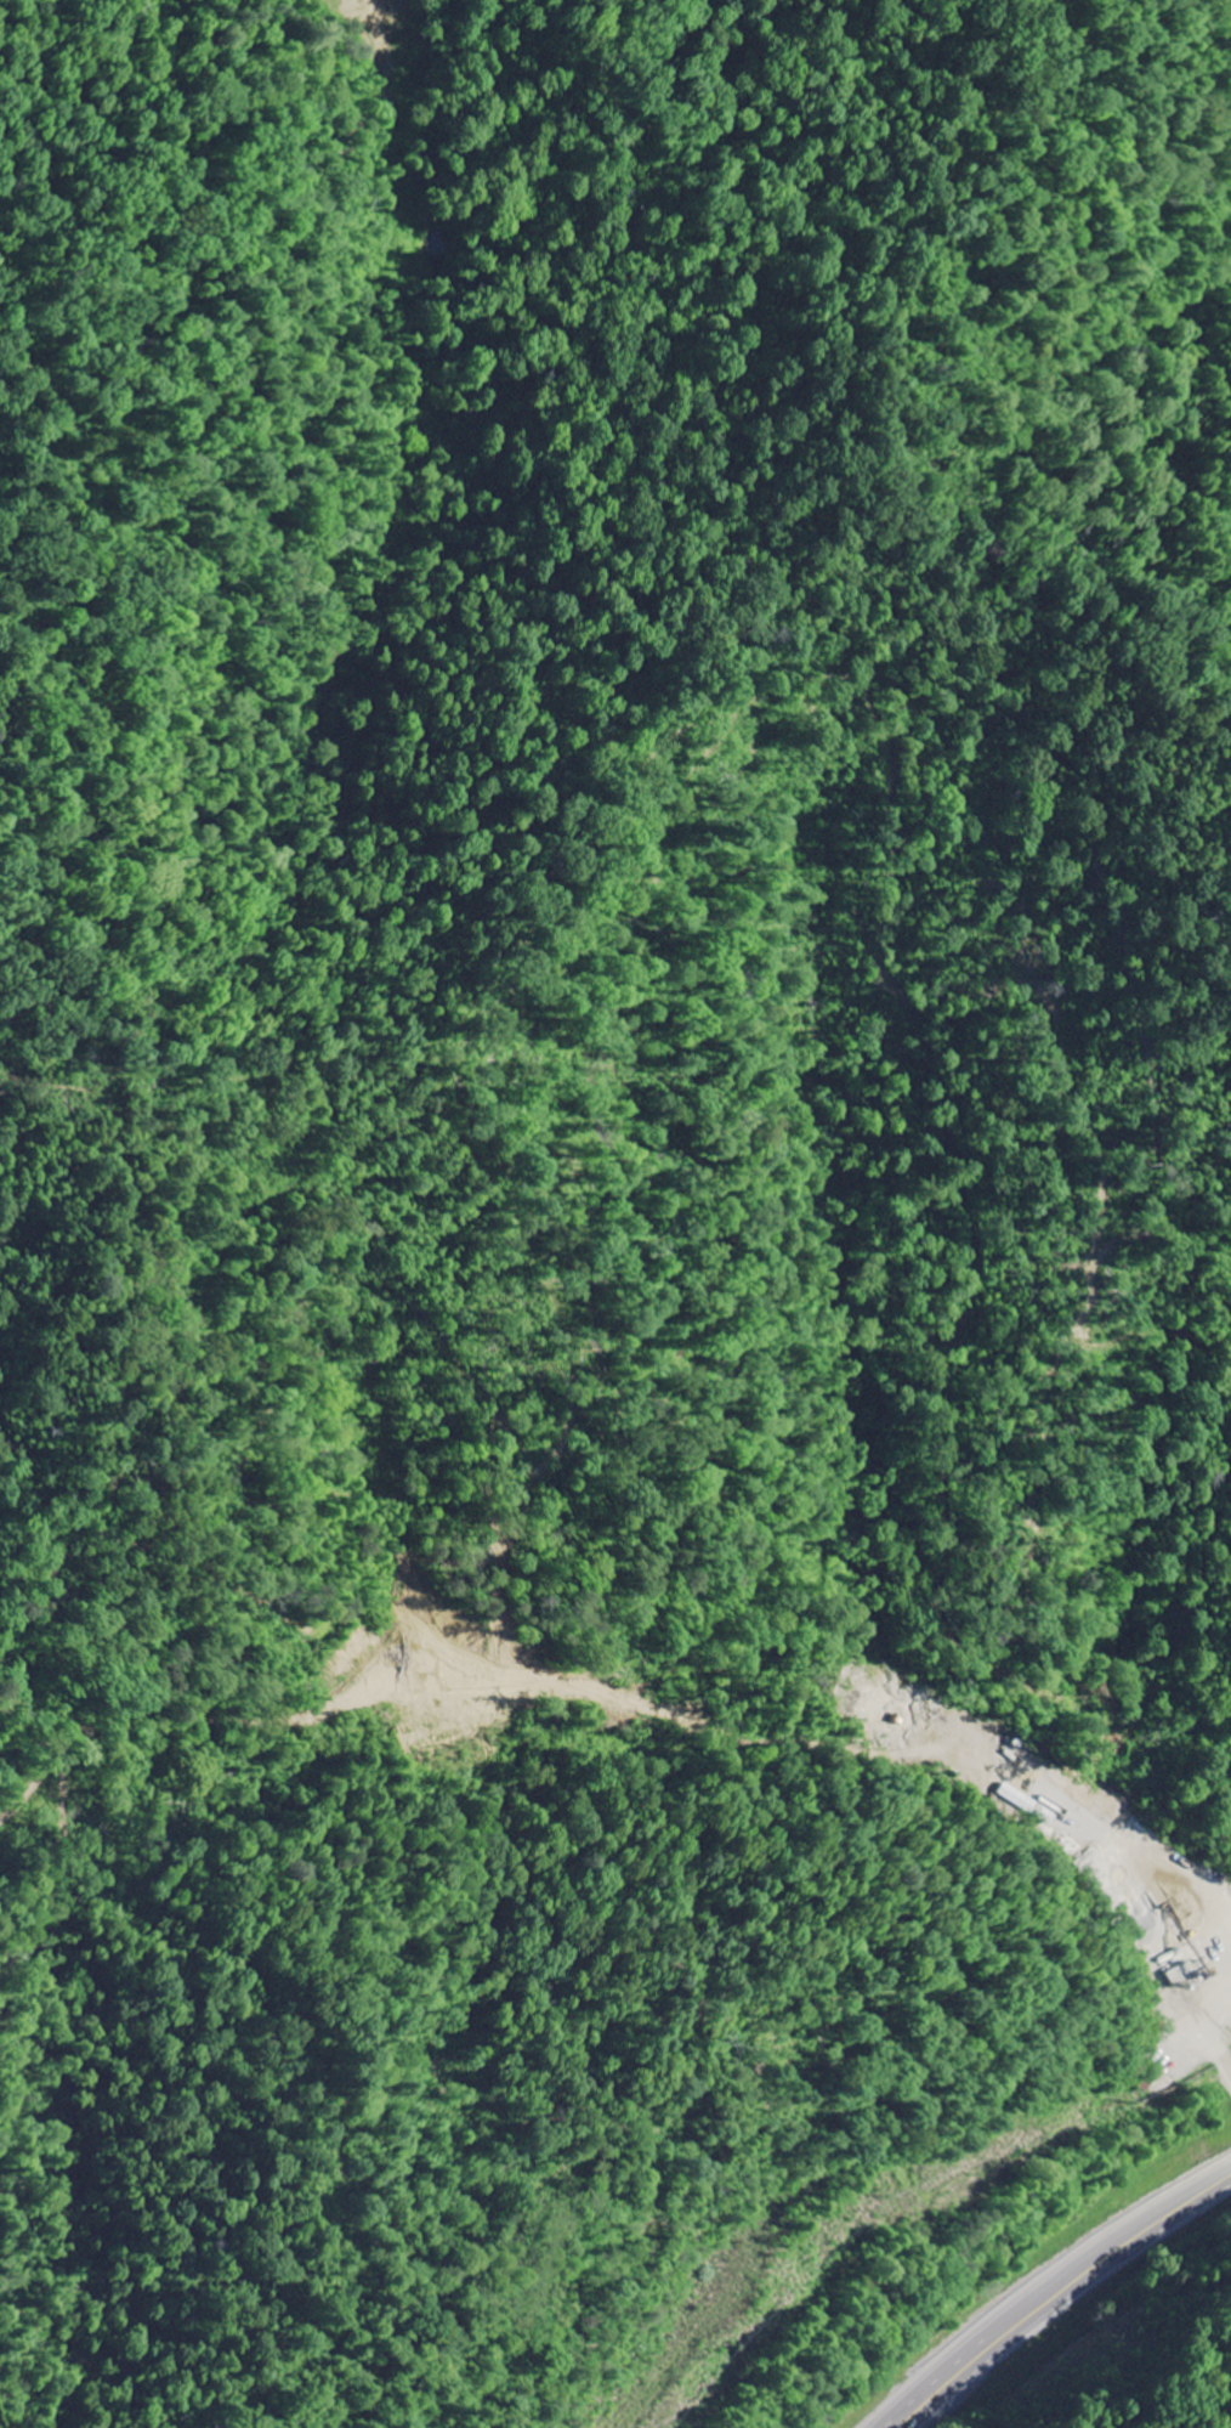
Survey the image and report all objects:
road: (1057, 2292)

